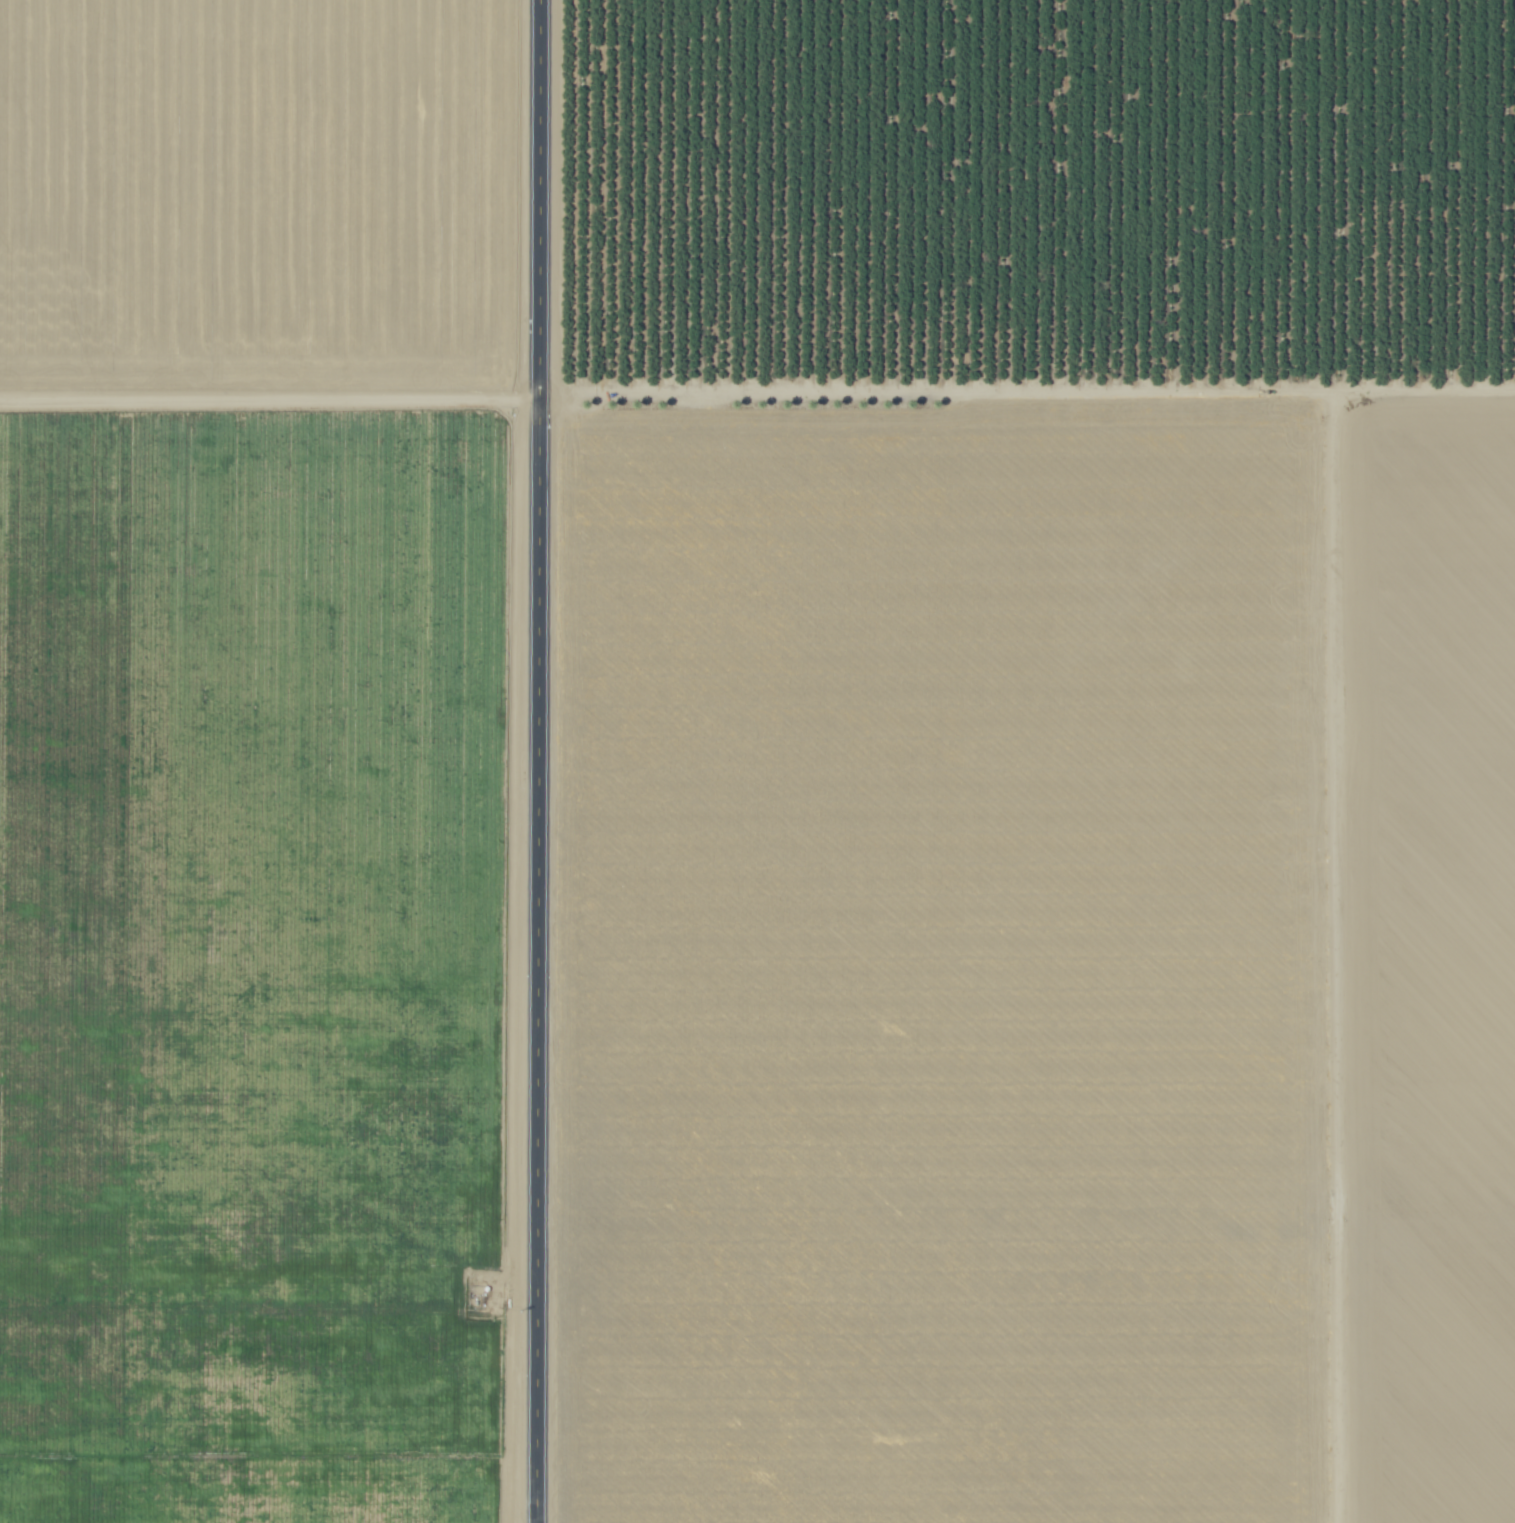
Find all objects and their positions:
road: (757, 387)
crop: (261, 613)
road: (540, 761)
crop: (956, 824)

